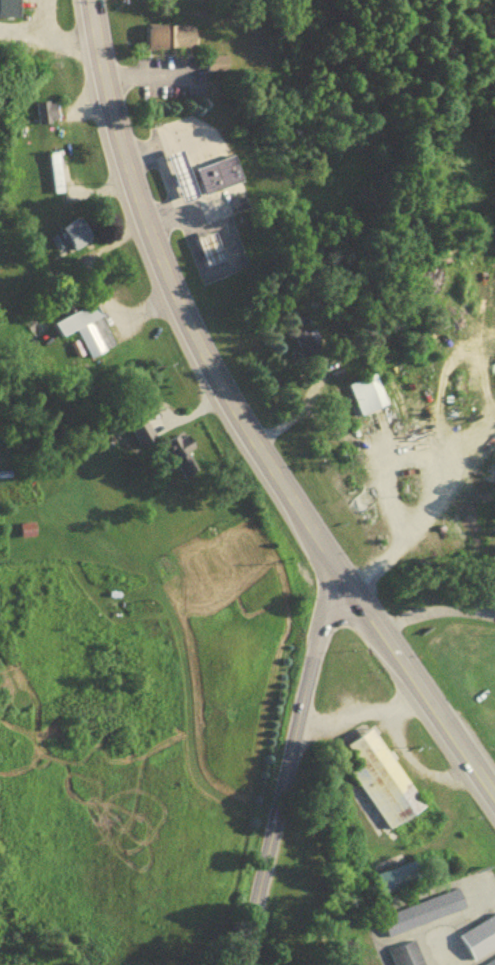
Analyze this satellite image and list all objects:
building: (7, 6)
road: (17, 26)
building: (164, 34)
road: (47, 40)
building: (207, 60)
road: (144, 76)
road: (179, 141)
building: (52, 169)
building: (177, 172)
building: (213, 172)
building: (58, 177)
road: (168, 184)
road: (208, 206)
building: (68, 232)
building: (205, 247)
road: (226, 265)
building: (84, 327)
building: (371, 399)
road: (291, 409)
road: (236, 426)
building: (147, 434)
road: (436, 462)
building: (76, 506)
road: (437, 615)
road: (365, 706)
road: (419, 763)
road: (288, 769)
building: (384, 785)
building: (400, 882)
building: (424, 917)
building: (479, 943)
building: (407, 957)

